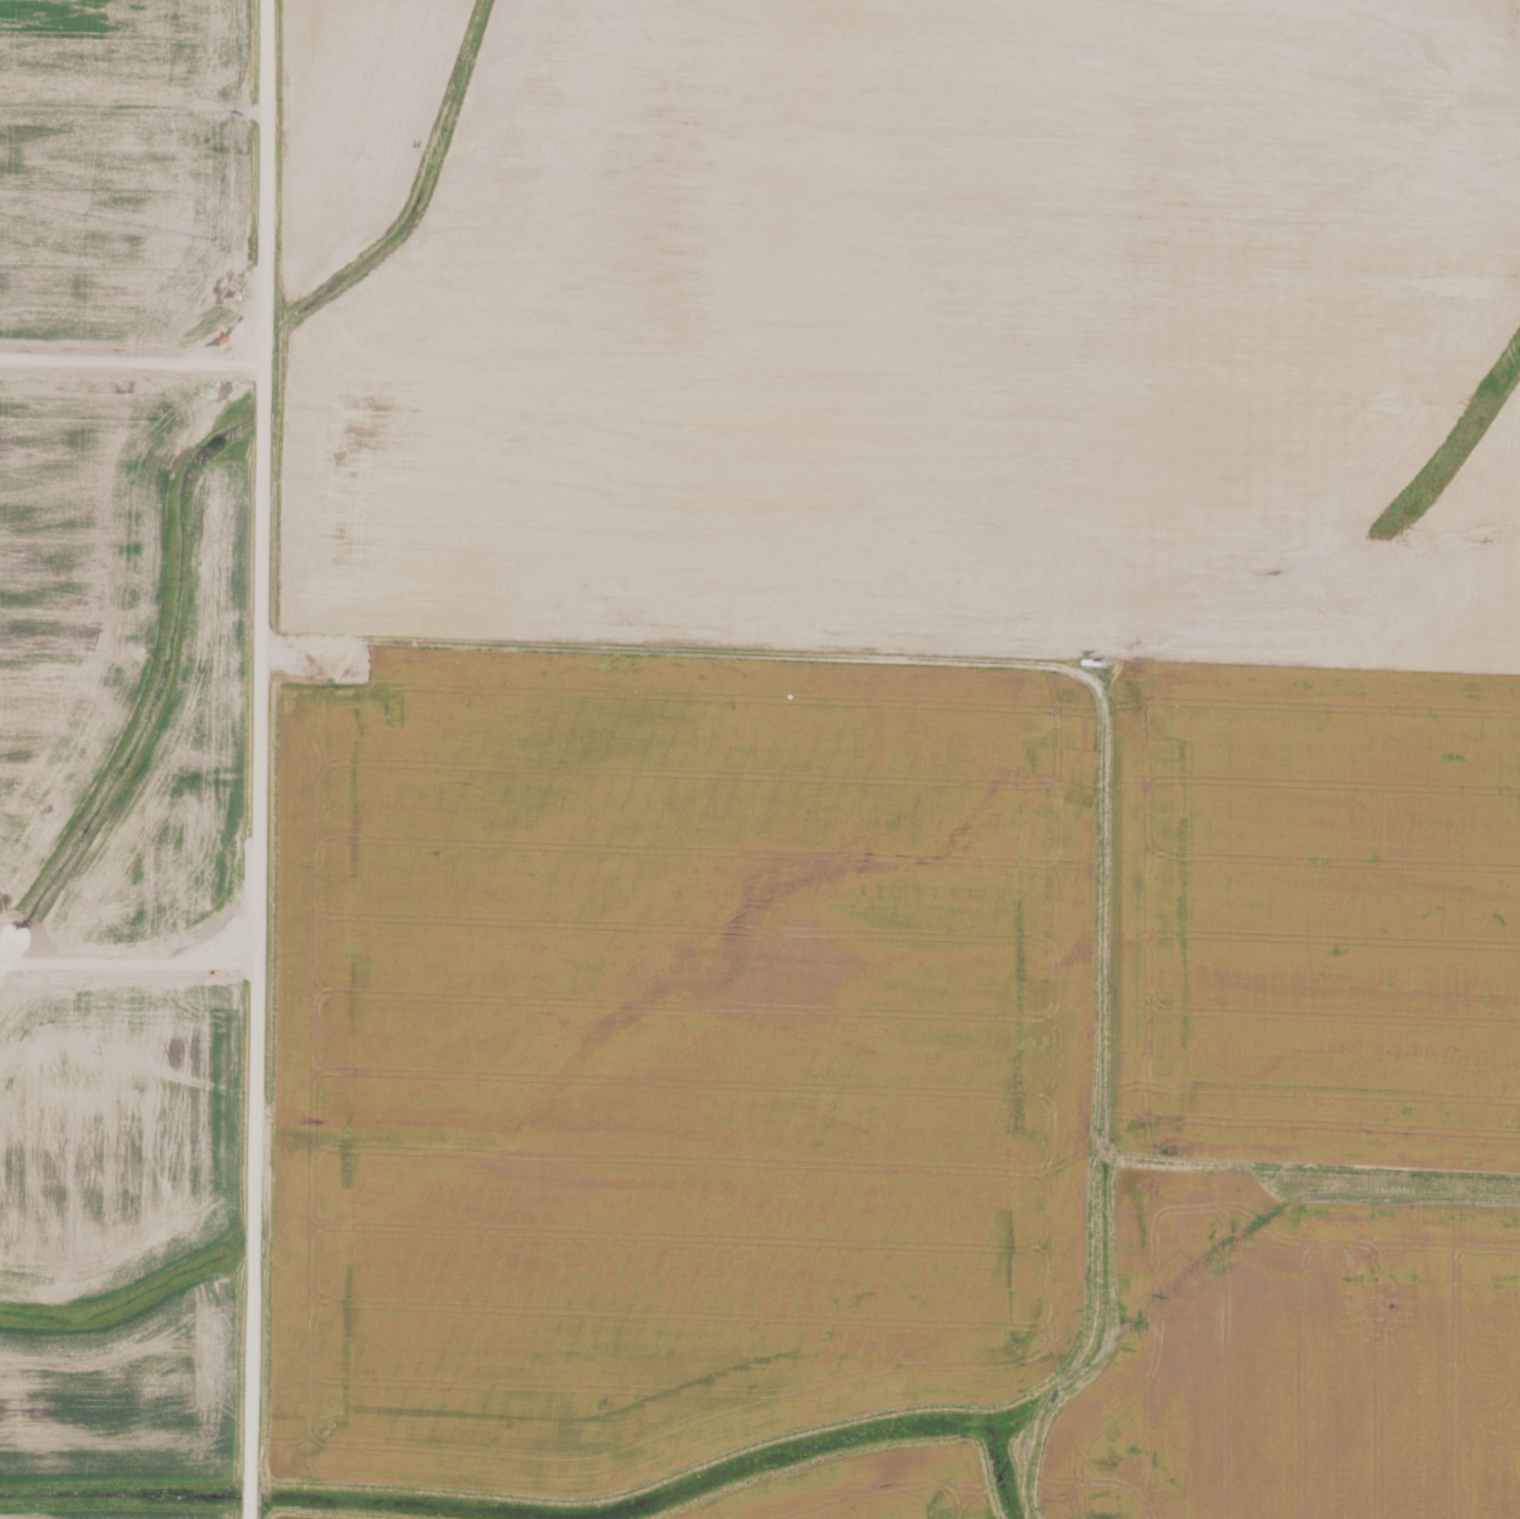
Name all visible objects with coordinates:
road: (261, 759)

